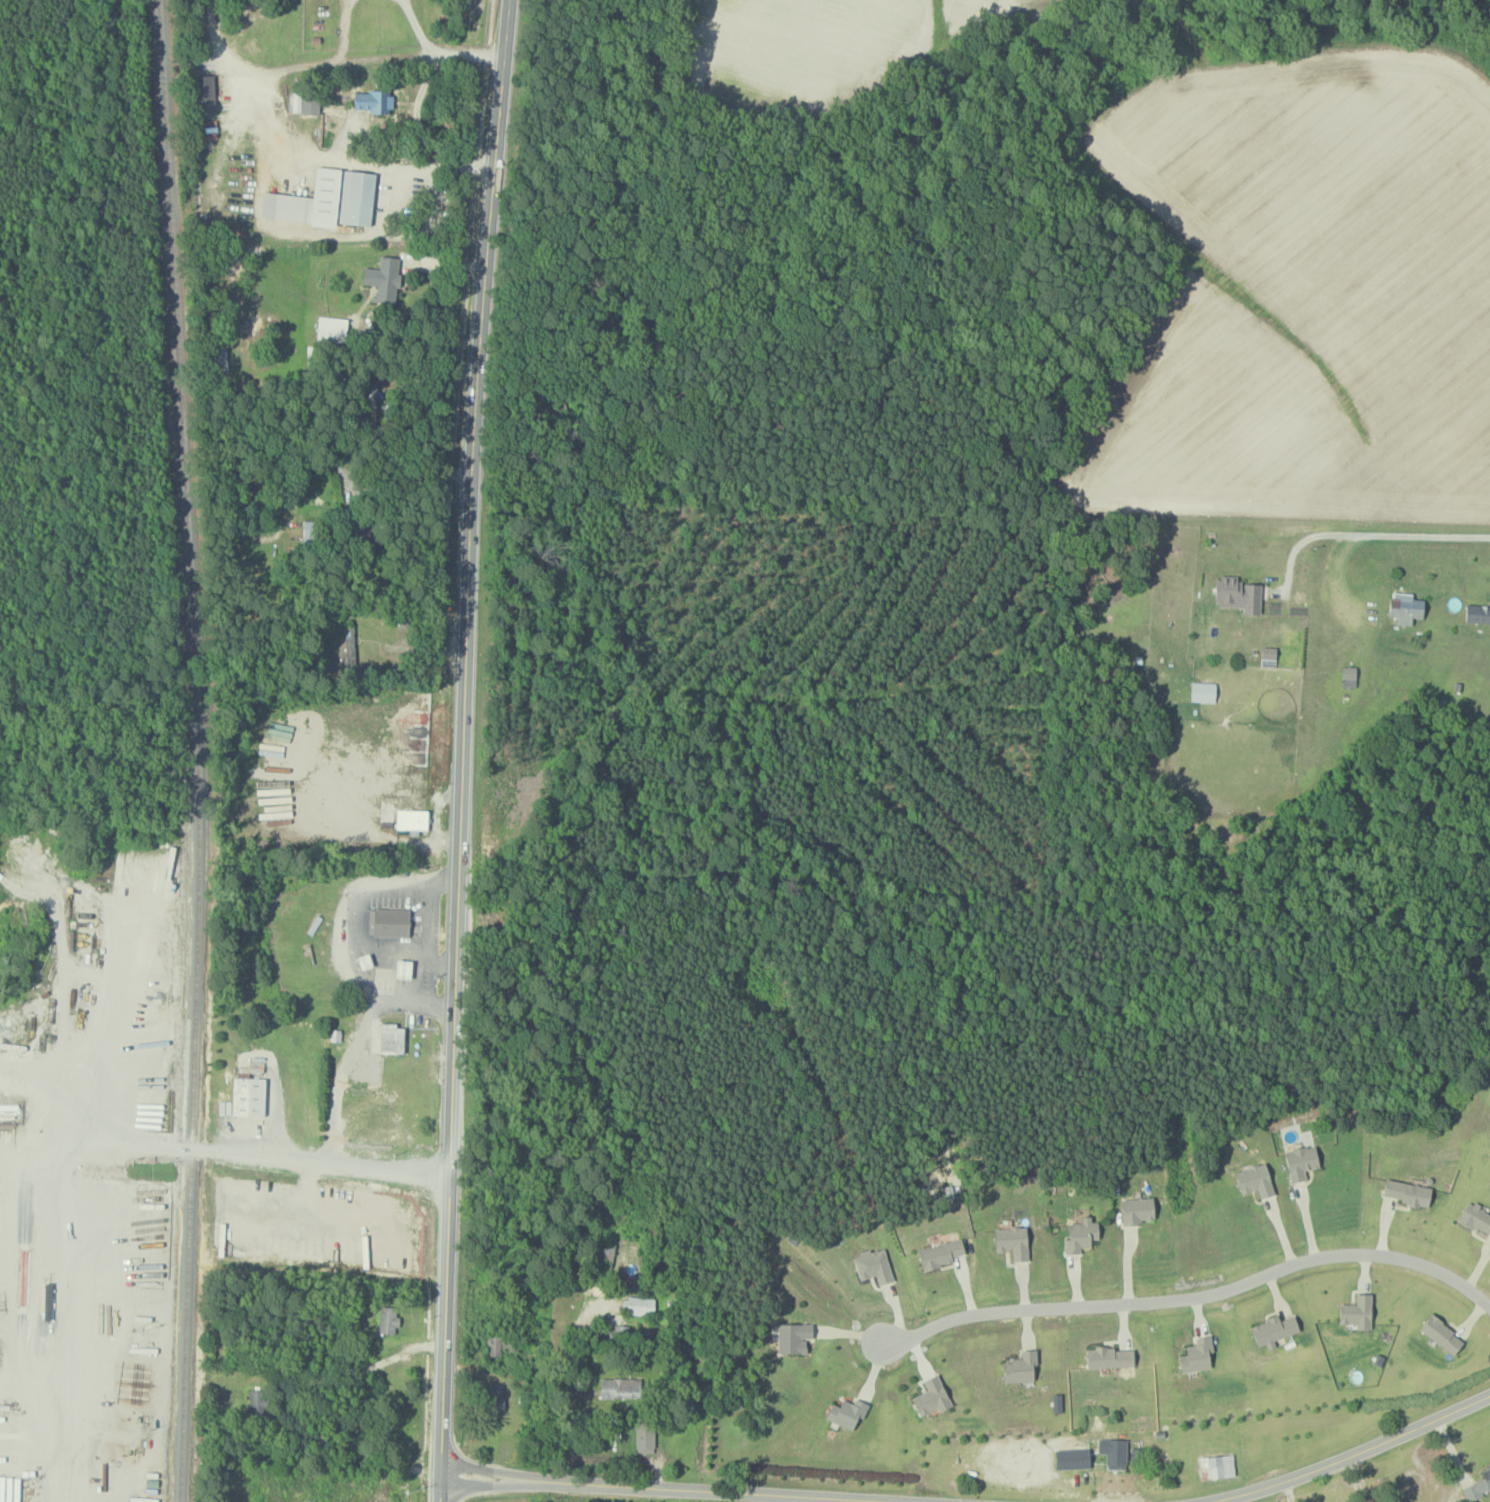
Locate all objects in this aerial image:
road: (416, 26)
road: (343, 29)
road: (375, 56)
building: (206, 94)
building: (372, 102)
building: (305, 104)
road: (414, 110)
road: (310, 153)
building: (325, 200)
building: (383, 280)
building: (330, 328)
building: (220, 358)
road: (405, 472)
road: (1362, 535)
road: (467, 585)
building: (1237, 593)
building: (1405, 607)
building: (1478, 612)
building: (347, 645)
building: (1268, 656)
building: (1348, 676)
building: (1203, 691)
railway: (199, 750)
building: (382, 811)
building: (411, 819)
road: (356, 905)
building: (390, 922)
road: (389, 940)
road: (427, 944)
building: (386, 1037)
road: (355, 1047)
building: (248, 1096)
building: (225, 1108)
road: (121, 1138)
road: (30, 1161)
building: (1301, 1162)
building: (1255, 1180)
road: (212, 1184)
building: (9, 1188)
building: (1408, 1192)
building: (1137, 1210)
building: (1476, 1217)
building: (1081, 1235)
building: (1012, 1241)
building: (941, 1252)
building: (873, 1265)
road: (1193, 1296)
building: (640, 1305)
building: (1357, 1312)
building: (388, 1320)
building: (1273, 1330)
building: (1442, 1334)
road: (443, 1337)
building: (791, 1337)
road: (67, 1353)
building: (1197, 1355)
building: (1110, 1357)
building: (1020, 1367)
road: (561, 1377)
building: (619, 1388)
building: (931, 1396)
building: (494, 1397)
building: (847, 1413)
building: (644, 1437)
road: (1451, 1449)
building: (1114, 1452)
road: (1353, 1454)
building: (1072, 1458)
building: (1217, 1466)
road: (1360, 1478)
building: (1479, 1486)
road: (1469, 1488)
road: (639, 1489)
road: (1289, 1492)
road: (1476, 1498)

